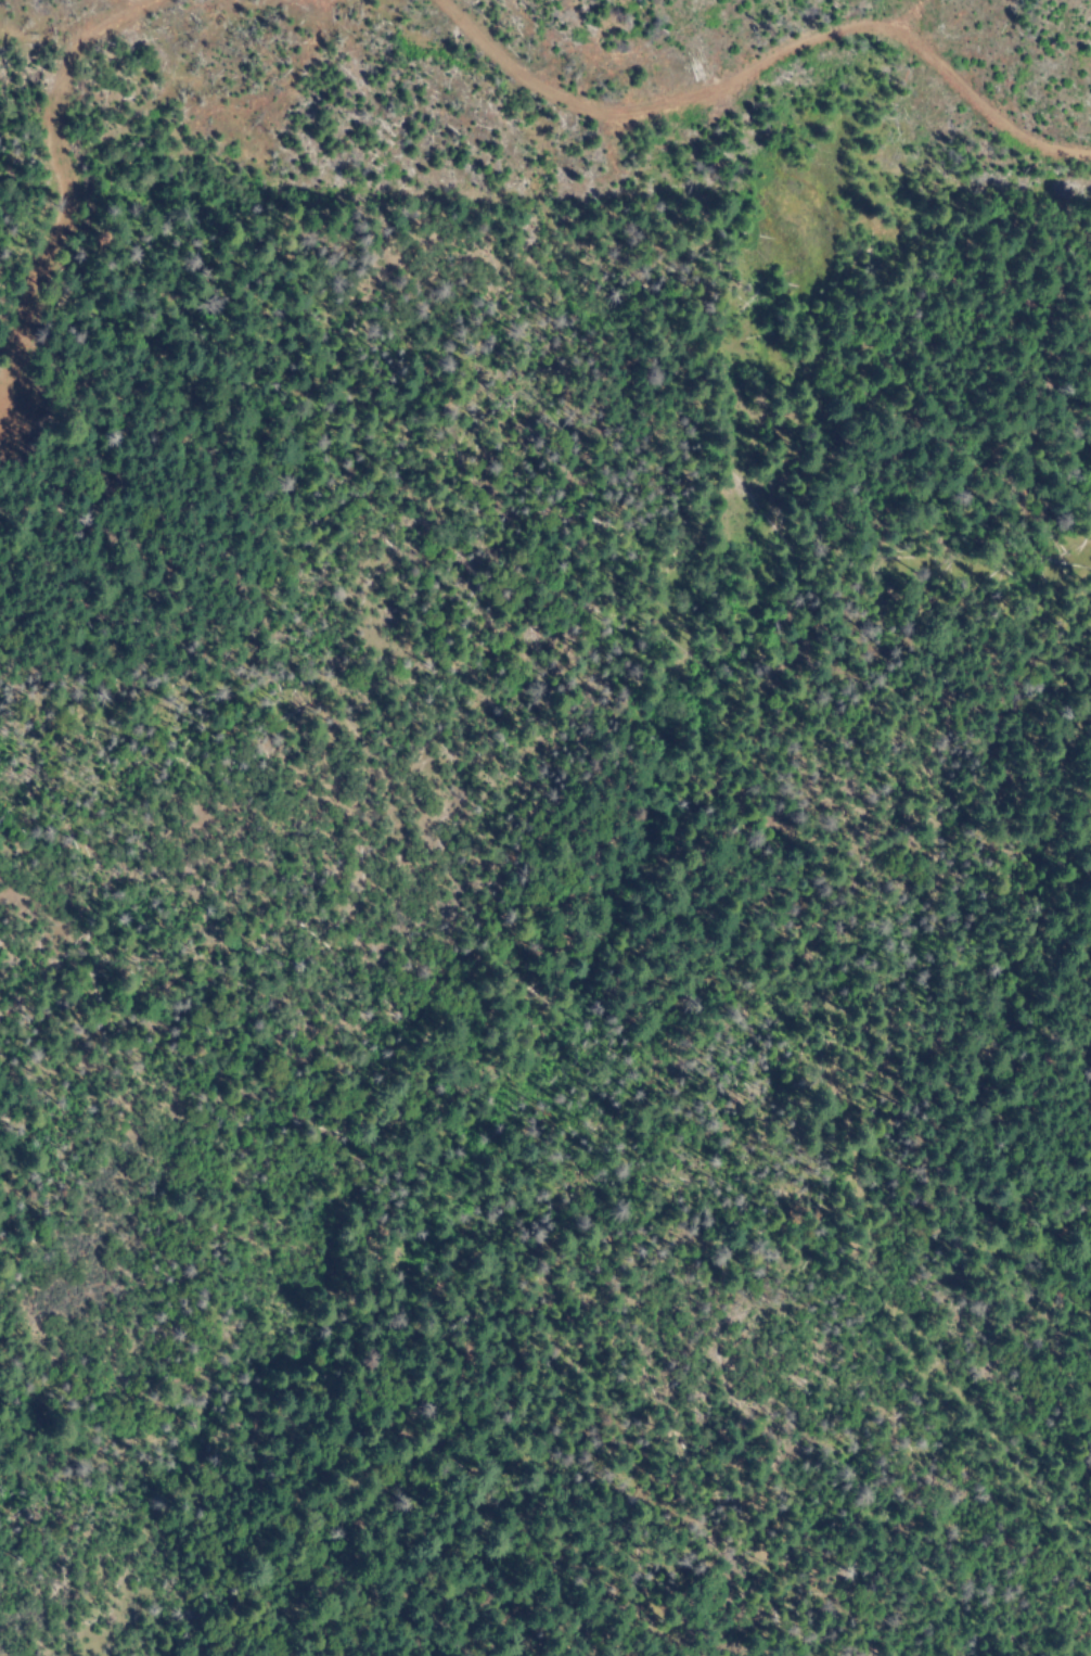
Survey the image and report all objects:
road: (545, 115)

